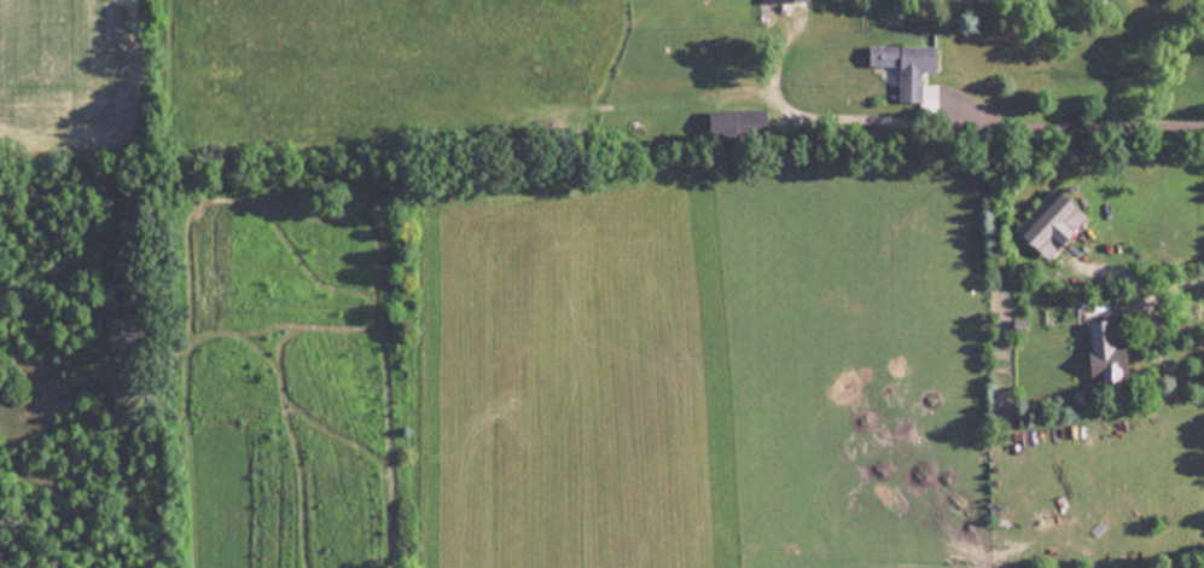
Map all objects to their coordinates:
building: (780, 0)
building: (906, 65)
crop: (53, 70)
building: (734, 122)
road: (1006, 124)
building: (1054, 222)
building: (1106, 353)

